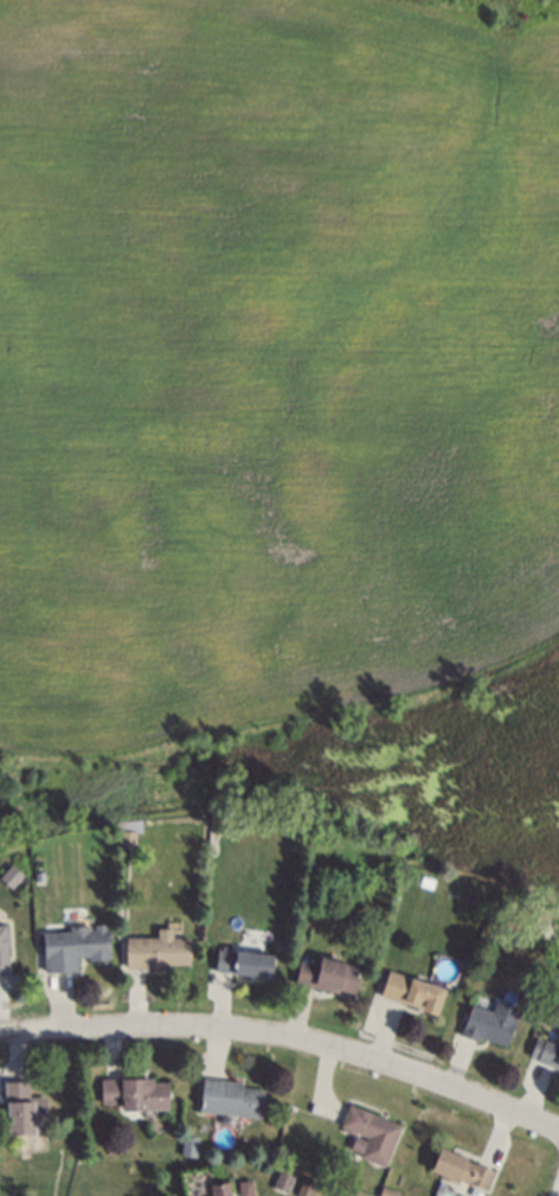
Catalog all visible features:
building: (124, 829)
building: (36, 872)
building: (308, 872)
building: (8, 874)
building: (422, 878)
building: (70, 945)
building: (1, 947)
building: (153, 949)
building: (239, 961)
building: (323, 973)
building: (407, 990)
building: (487, 1021)
road: (287, 1037)
building: (547, 1053)
building: (131, 1092)
building: (226, 1096)
building: (20, 1108)
building: (368, 1132)
building: (185, 1144)
building: (109, 1147)
building: (457, 1168)
building: (279, 1179)
building: (302, 1187)
building: (217, 1188)
building: (245, 1188)
building: (384, 1191)

